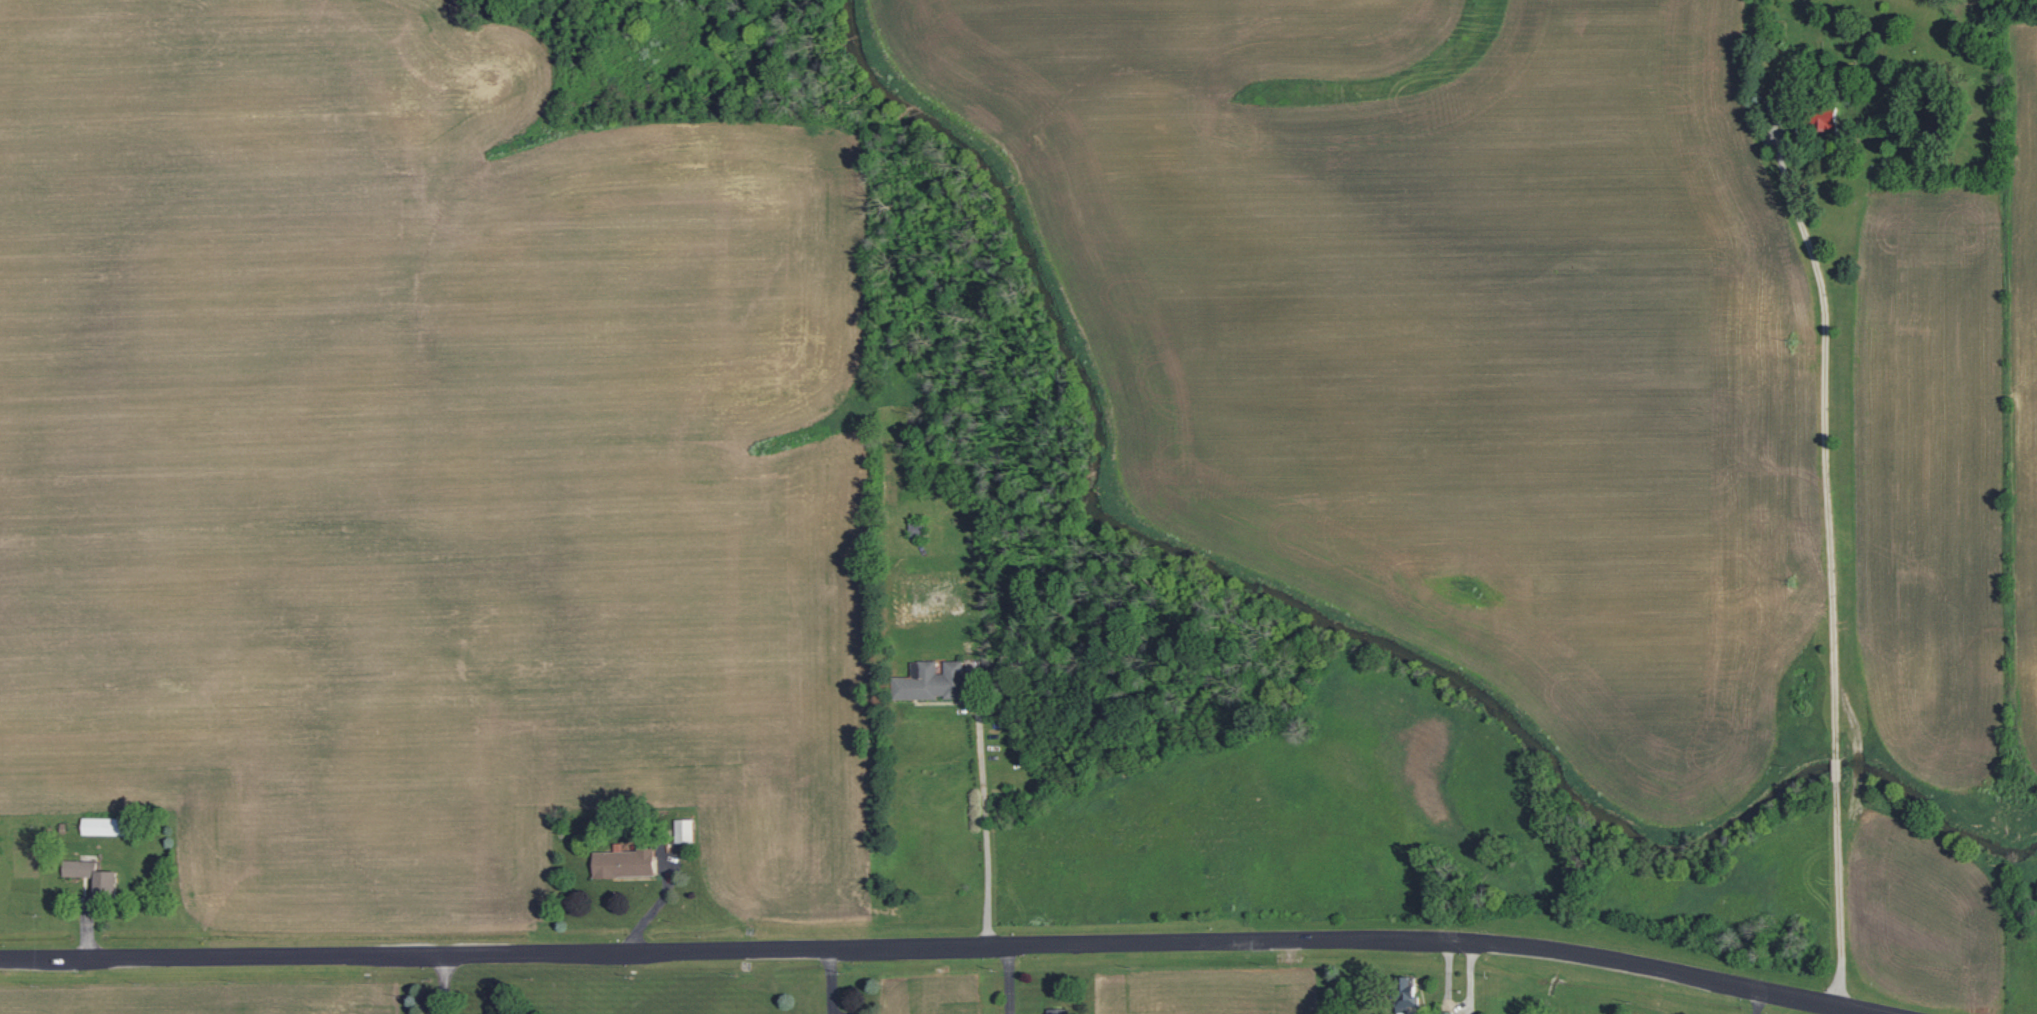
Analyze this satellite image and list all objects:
road: (1853, 562)
building: (932, 681)
building: (102, 826)
building: (683, 830)
building: (623, 862)
building: (91, 875)
road: (925, 945)
building: (1407, 996)
building: (1056, 1011)

